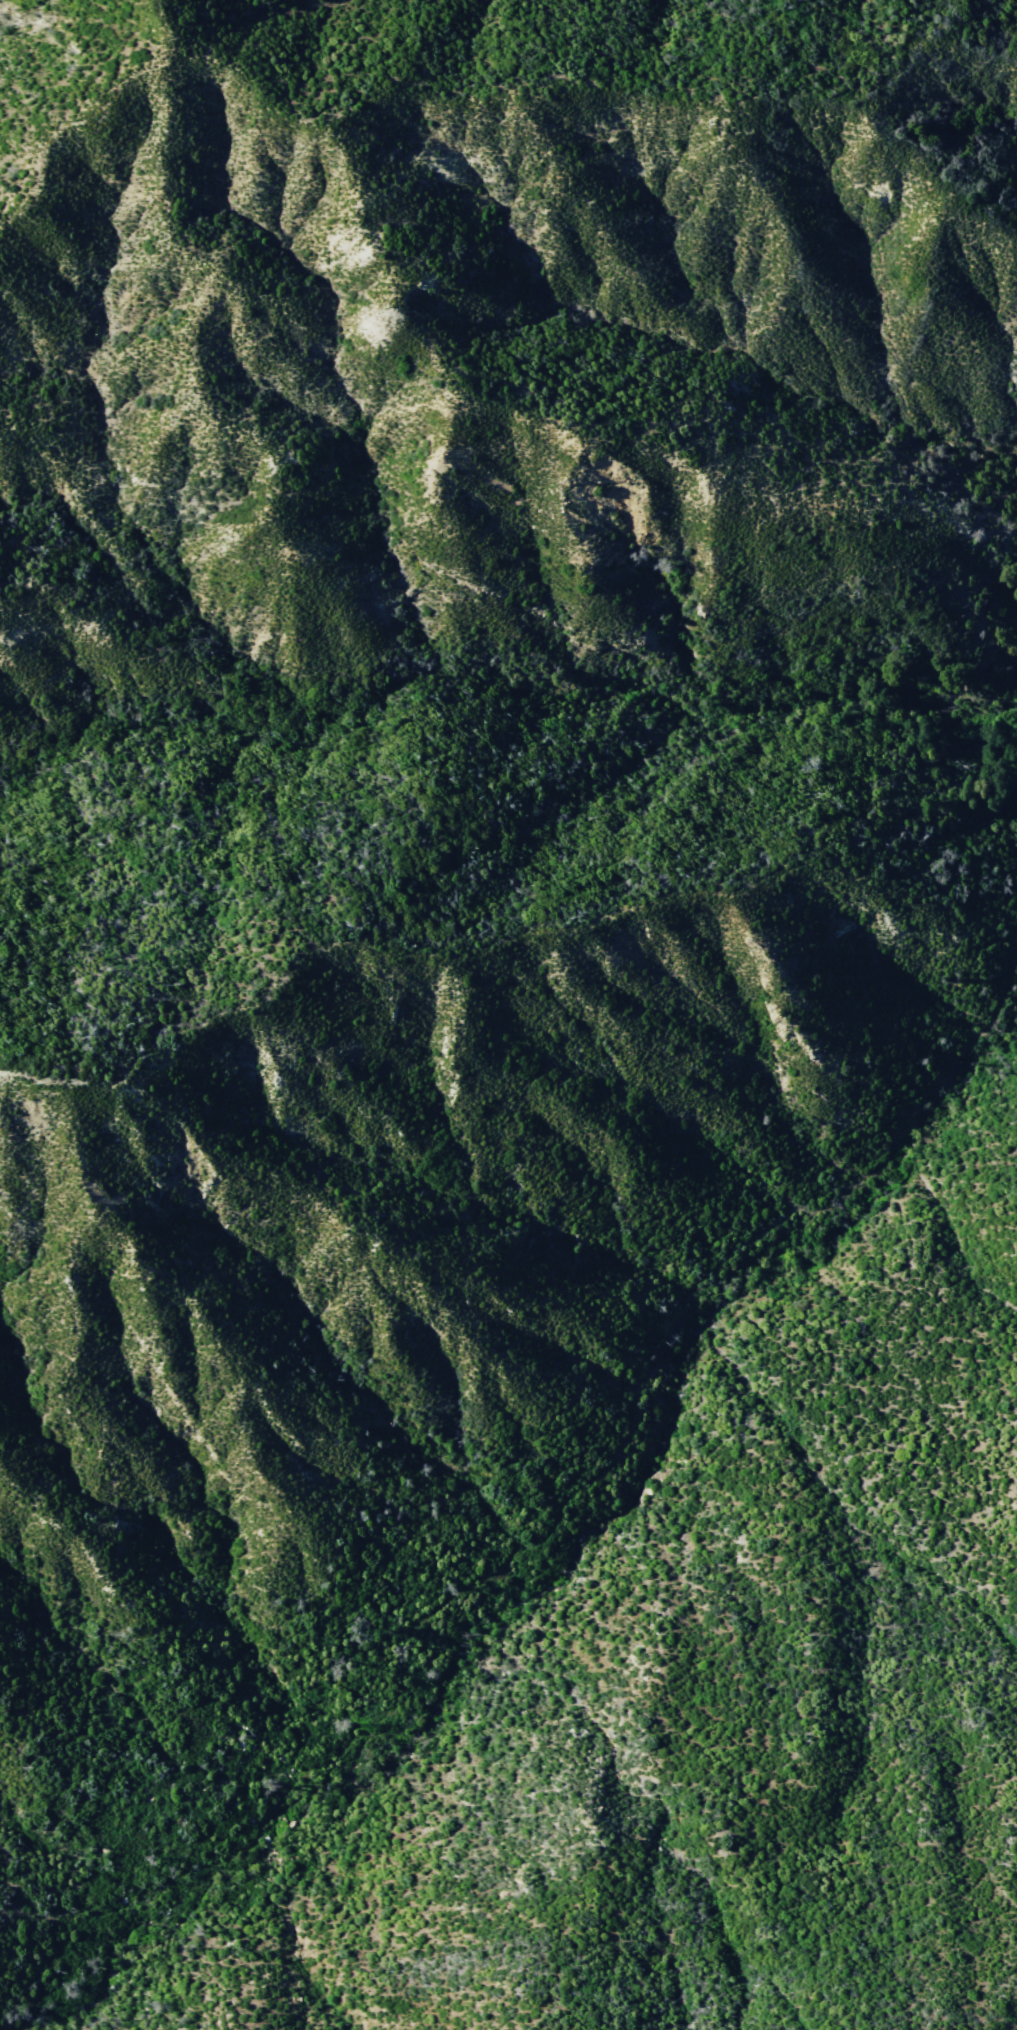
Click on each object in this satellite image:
road: (1015, 709)
road: (555, 1523)

